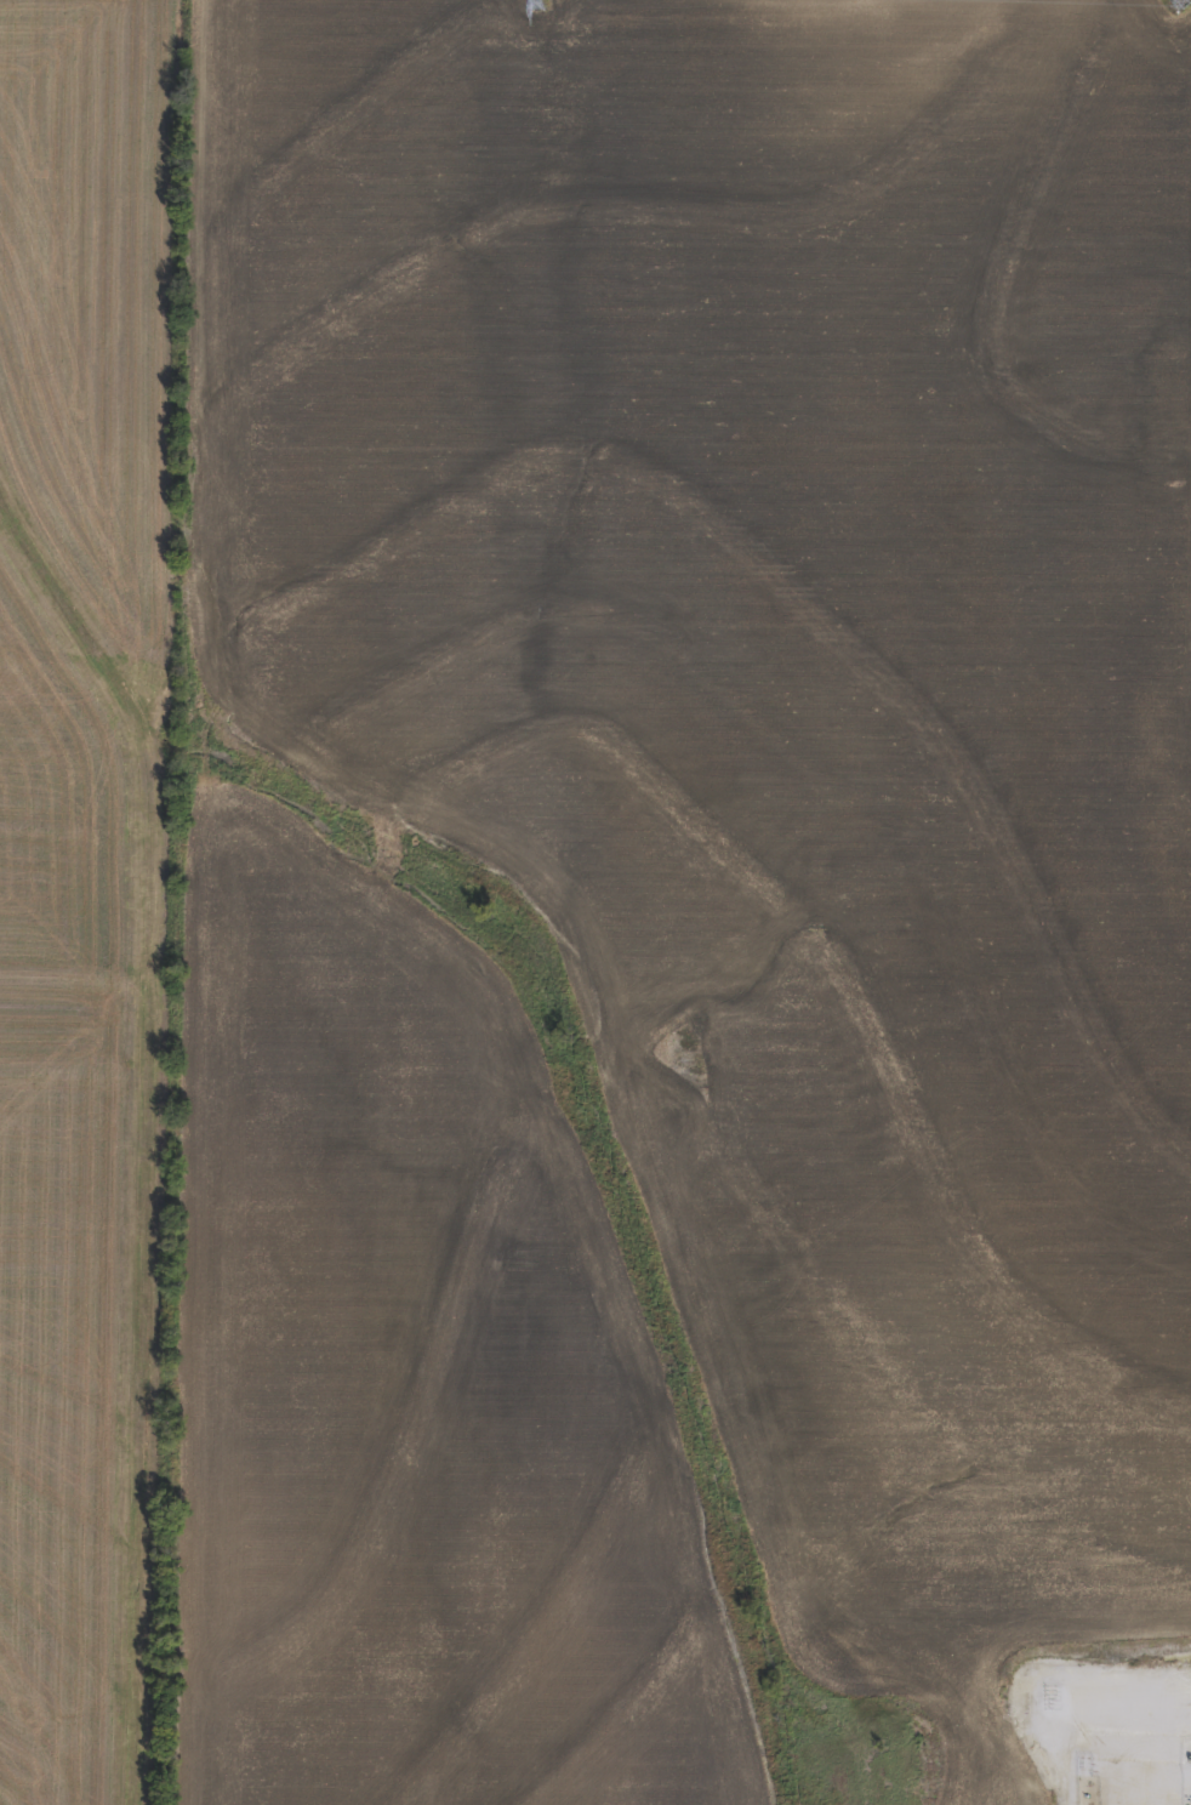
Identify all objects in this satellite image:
power tower: (535, 1)

